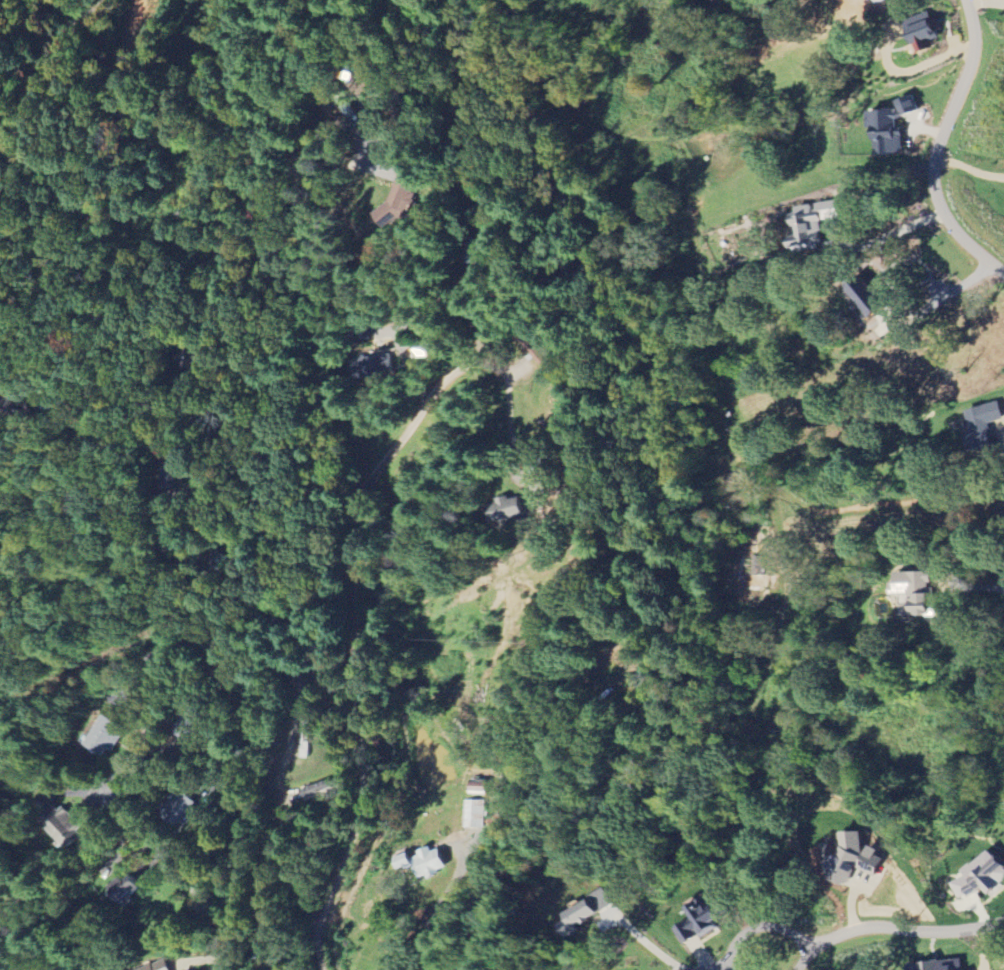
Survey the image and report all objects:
building: (880, 0)
building: (928, 30)
road: (44, 69)
building: (895, 125)
road: (934, 147)
building: (401, 197)
building: (813, 224)
road: (878, 239)
road: (949, 292)
building: (373, 366)
road: (506, 416)
road: (145, 417)
building: (985, 427)
building: (510, 508)
road: (115, 509)
road: (974, 585)
building: (917, 592)
road: (353, 606)
road: (248, 627)
road: (146, 710)
building: (109, 734)
building: (481, 788)
building: (182, 804)
building: (475, 813)
building: (67, 826)
building: (859, 850)
building: (425, 862)
building: (984, 876)
building: (127, 887)
building: (591, 912)
road: (428, 916)
building: (706, 919)
road: (849, 929)
road: (650, 945)
road: (810, 956)
building: (944, 965)
building: (159, 966)
road: (718, 968)
road: (726, 968)

